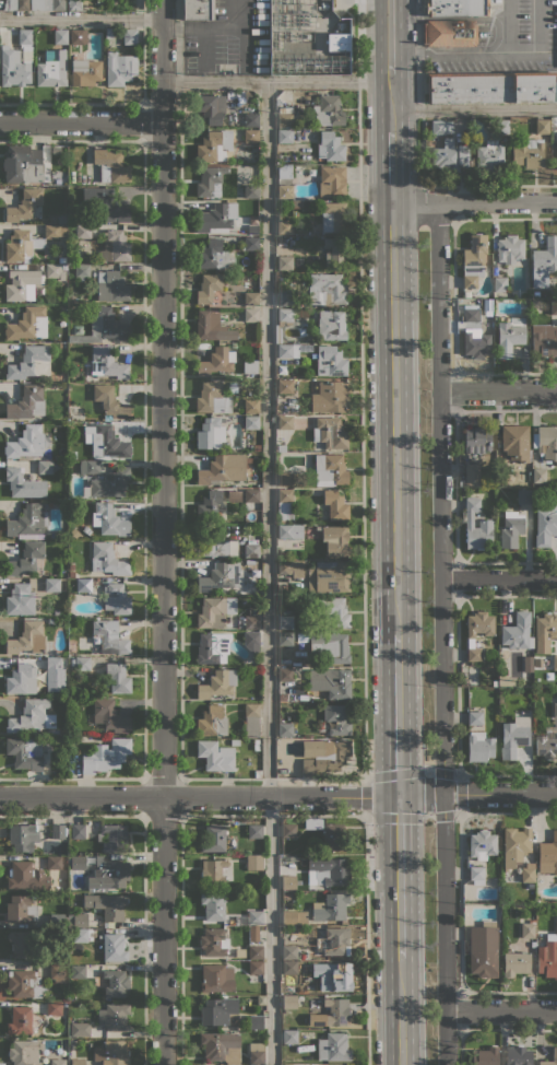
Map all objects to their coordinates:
building: (15, 4)
building: (47, 4)
building: (74, 4)
building: (457, 8)
building: (197, 10)
road: (81, 19)
road: (509, 25)
building: (110, 32)
building: (449, 32)
road: (389, 35)
building: (25, 36)
building: (60, 36)
building: (78, 36)
building: (130, 36)
power substation: (308, 37)
building: (303, 38)
building: (337, 39)
road: (489, 51)
building: (14, 68)
building: (51, 69)
building: (119, 69)
building: (85, 71)
road: (276, 81)
building: (491, 86)
road: (419, 92)
road: (390, 100)
road: (123, 104)
building: (211, 107)
road: (473, 108)
building: (328, 110)
building: (250, 119)
building: (284, 119)
road: (81, 122)
building: (500, 126)
building: (542, 126)
building: (440, 127)
building: (250, 136)
building: (285, 136)
building: (213, 144)
building: (330, 147)
building: (529, 153)
building: (489, 154)
building: (449, 155)
building: (284, 159)
building: (23, 164)
building: (556, 164)
road: (391, 165)
building: (110, 166)
building: (299, 167)
building: (210, 178)
building: (331, 182)
road: (489, 184)
building: (251, 191)
building: (285, 191)
road: (429, 192)
road: (474, 201)
building: (24, 204)
building: (105, 204)
building: (215, 216)
building: (333, 216)
building: (61, 220)
building: (284, 226)
building: (252, 229)
building: (54, 232)
building: (83, 232)
building: (250, 243)
building: (22, 246)
building: (114, 246)
building: (509, 248)
building: (334, 251)
building: (213, 254)
building: (61, 259)
building: (473, 259)
building: (544, 261)
building: (284, 262)
building: (63, 267)
building: (54, 271)
building: (82, 271)
building: (500, 283)
building: (22, 284)
building: (111, 286)
building: (208, 288)
building: (327, 289)
building: (283, 292)
building: (466, 294)
building: (251, 299)
building: (554, 306)
building: (251, 315)
building: (285, 315)
building: (470, 315)
building: (27, 325)
building: (331, 325)
building: (212, 326)
building: (102, 327)
building: (278, 333)
building: (509, 336)
building: (544, 339)
building: (478, 344)
building: (287, 351)
building: (216, 361)
building: (330, 361)
building: (31, 362)
building: (104, 364)
building: (285, 386)
road: (360, 388)
road: (498, 390)
building: (330, 397)
building: (212, 398)
building: (27, 402)
building: (110, 402)
building: (251, 406)
road: (394, 418)
building: (251, 422)
building: (285, 422)
building: (50, 424)
building: (330, 432)
building: (210, 433)
building: (476, 440)
building: (26, 442)
building: (515, 442)
building: (108, 443)
building: (546, 443)
building: (257, 447)
building: (281, 448)
building: (61, 465)
building: (45, 466)
building: (90, 466)
building: (223, 469)
building: (330, 469)
building: (502, 471)
building: (472, 475)
building: (540, 475)
building: (285, 479)
road: (179, 480)
building: (24, 483)
building: (109, 483)
building: (235, 495)
building: (251, 495)
building: (524, 496)
building: (284, 504)
building: (209, 505)
building: (335, 505)
building: (109, 519)
building: (28, 523)
building: (485, 524)
building: (545, 525)
building: (511, 528)
building: (84, 529)
road: (162, 531)
building: (291, 531)
building: (74, 532)
building: (55, 534)
building: (334, 539)
building: (214, 541)
building: (251, 550)
building: (282, 554)
building: (27, 559)
building: (107, 559)
building: (83, 567)
building: (291, 567)
building: (71, 573)
road: (268, 573)
building: (221, 576)
building: (329, 577)
road: (498, 580)
building: (52, 585)
building: (83, 585)
building: (281, 588)
building: (116, 598)
building: (287, 598)
building: (20, 599)
building: (215, 611)
building: (333, 611)
building: (251, 622)
building: (285, 622)
building: (517, 631)
building: (545, 631)
building: (301, 633)
road: (440, 633)
building: (471, 636)
building: (107, 637)
building: (28, 639)
building: (251, 639)
building: (285, 640)
building: (213, 647)
building: (329, 647)
building: (555, 662)
building: (54, 664)
building: (82, 664)
building: (528, 664)
building: (118, 678)
building: (24, 679)
building: (502, 680)
building: (318, 681)
building: (509, 682)
building: (217, 683)
building: (48, 687)
building: (555, 710)
road: (396, 714)
building: (109, 715)
building: (32, 716)
building: (337, 718)
building: (474, 718)
building: (251, 719)
building: (212, 722)
building: (285, 729)
building: (62, 732)
building: (512, 739)
building: (235, 741)
building: (547, 744)
building: (256, 745)
building: (479, 746)
building: (25, 752)
building: (324, 754)
building: (105, 756)
building: (215, 756)
building: (254, 762)
road: (427, 773)
road: (427, 793)
road: (459, 793)
road: (477, 793)
road: (366, 794)
road: (199, 795)
traffic signals: (399, 796)
road: (427, 812)
building: (312, 823)
building: (288, 830)
building: (58, 831)
building: (78, 831)
building: (254, 831)
building: (23, 836)
building: (333, 836)
building: (112, 838)
building: (214, 838)
building: (482, 844)
building: (515, 845)
road: (181, 846)
building: (548, 855)
building: (253, 861)
building: (54, 862)
building: (78, 863)
building: (329, 870)
building: (213, 873)
building: (108, 875)
building: (476, 875)
building: (528, 875)
building: (26, 876)
road: (398, 876)
building: (288, 882)
building: (260, 893)
building: (107, 904)
building: (213, 906)
building: (330, 906)
building: (20, 909)
building: (294, 917)
building: (250, 918)
building: (57, 920)
building: (78, 920)
building: (528, 928)
building: (253, 933)
building: (82, 935)
road: (368, 939)
building: (329, 940)
building: (214, 941)
building: (20, 943)
building: (114, 948)
building: (483, 949)
building: (254, 951)
building: (288, 951)
building: (548, 956)
building: (55, 957)
building: (515, 962)
building: (289, 967)
building: (256, 968)
building: (78, 971)
building: (57, 973)
building: (216, 978)
building: (336, 978)
building: (24, 983)
building: (116, 983)
building: (291, 1000)
building: (54, 1008)
road: (400, 1010)
road: (500, 1010)
building: (217, 1011)
building: (335, 1011)
building: (114, 1017)
building: (20, 1020)
building: (256, 1021)
building: (81, 1029)
building: (289, 1037)
building: (72, 1041)
building: (221, 1046)
building: (333, 1048)
building: (24, 1052)
building: (111, 1053)
building: (256, 1053)
building: (555, 1053)
building: (518, 1055)
building: (485, 1056)
building: (57, 1062)
building: (76, 1062)
building: (287, 1064)

